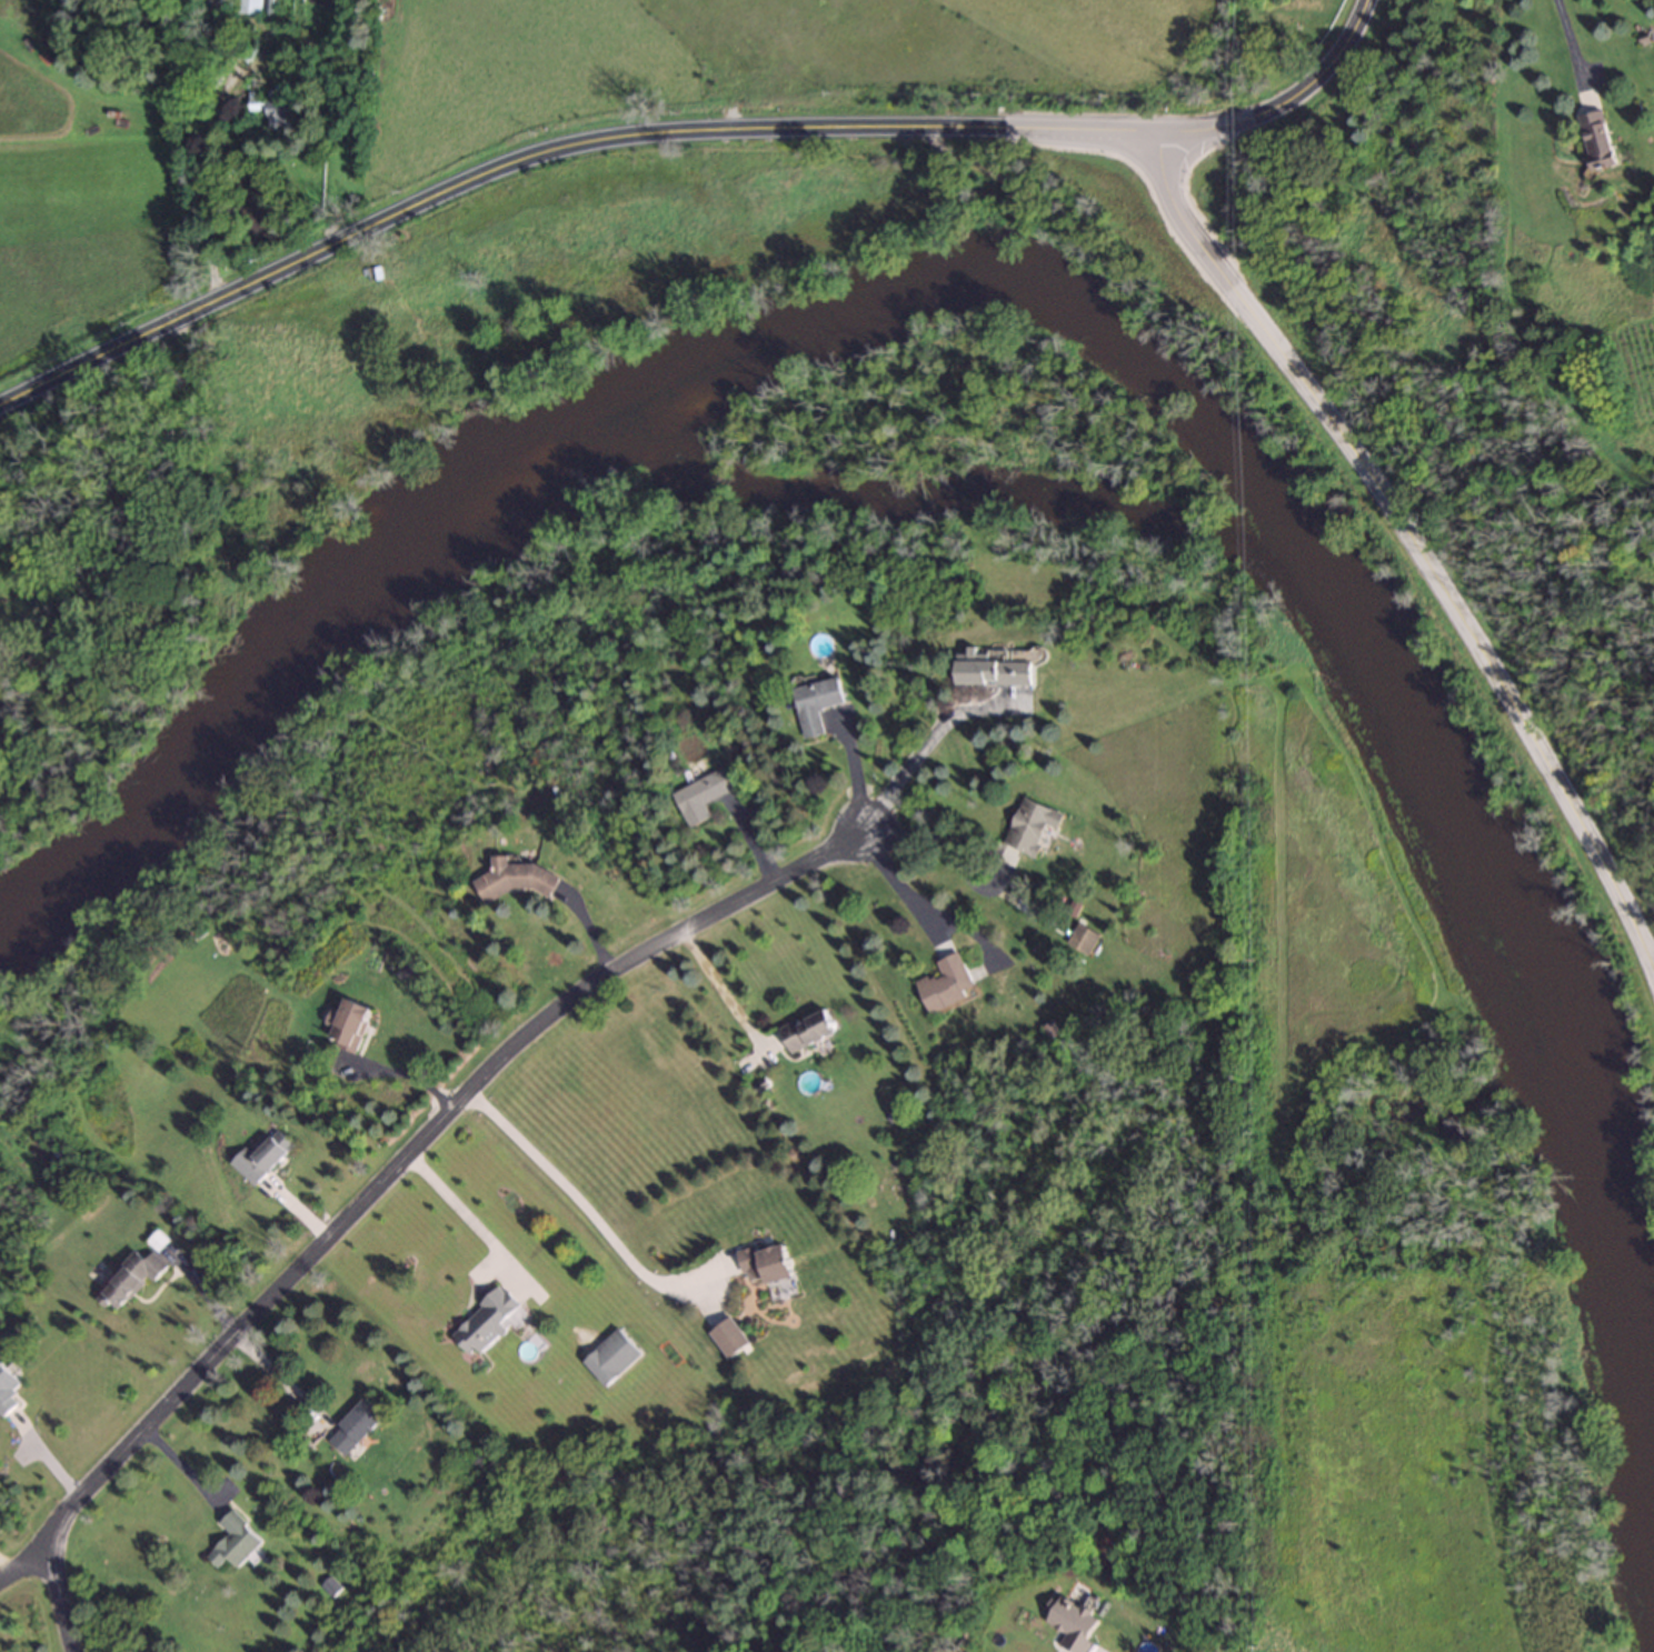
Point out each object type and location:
building: (188, 3)
building: (215, 4)
building: (250, 7)
road: (1571, 36)
road: (1292, 100)
building: (256, 101)
building: (279, 113)
building: (1600, 139)
road: (552, 144)
river: (1100, 334)
road: (1408, 519)
building: (992, 670)
building: (815, 703)
road: (924, 745)
building: (700, 795)
building: (1030, 825)
building: (517, 879)
road: (899, 882)
building: (1082, 939)
building: (945, 983)
road: (724, 987)
building: (349, 1025)
building: (808, 1030)
building: (263, 1160)
road: (373, 1179)
road: (581, 1198)
road: (462, 1207)
building: (767, 1263)
building: (130, 1279)
building: (485, 1322)
building: (730, 1338)
building: (612, 1359)
road: (278, 1379)
building: (7, 1386)
building: (356, 1425)
road: (181, 1471)
building: (236, 1541)
road: (24, 1561)

